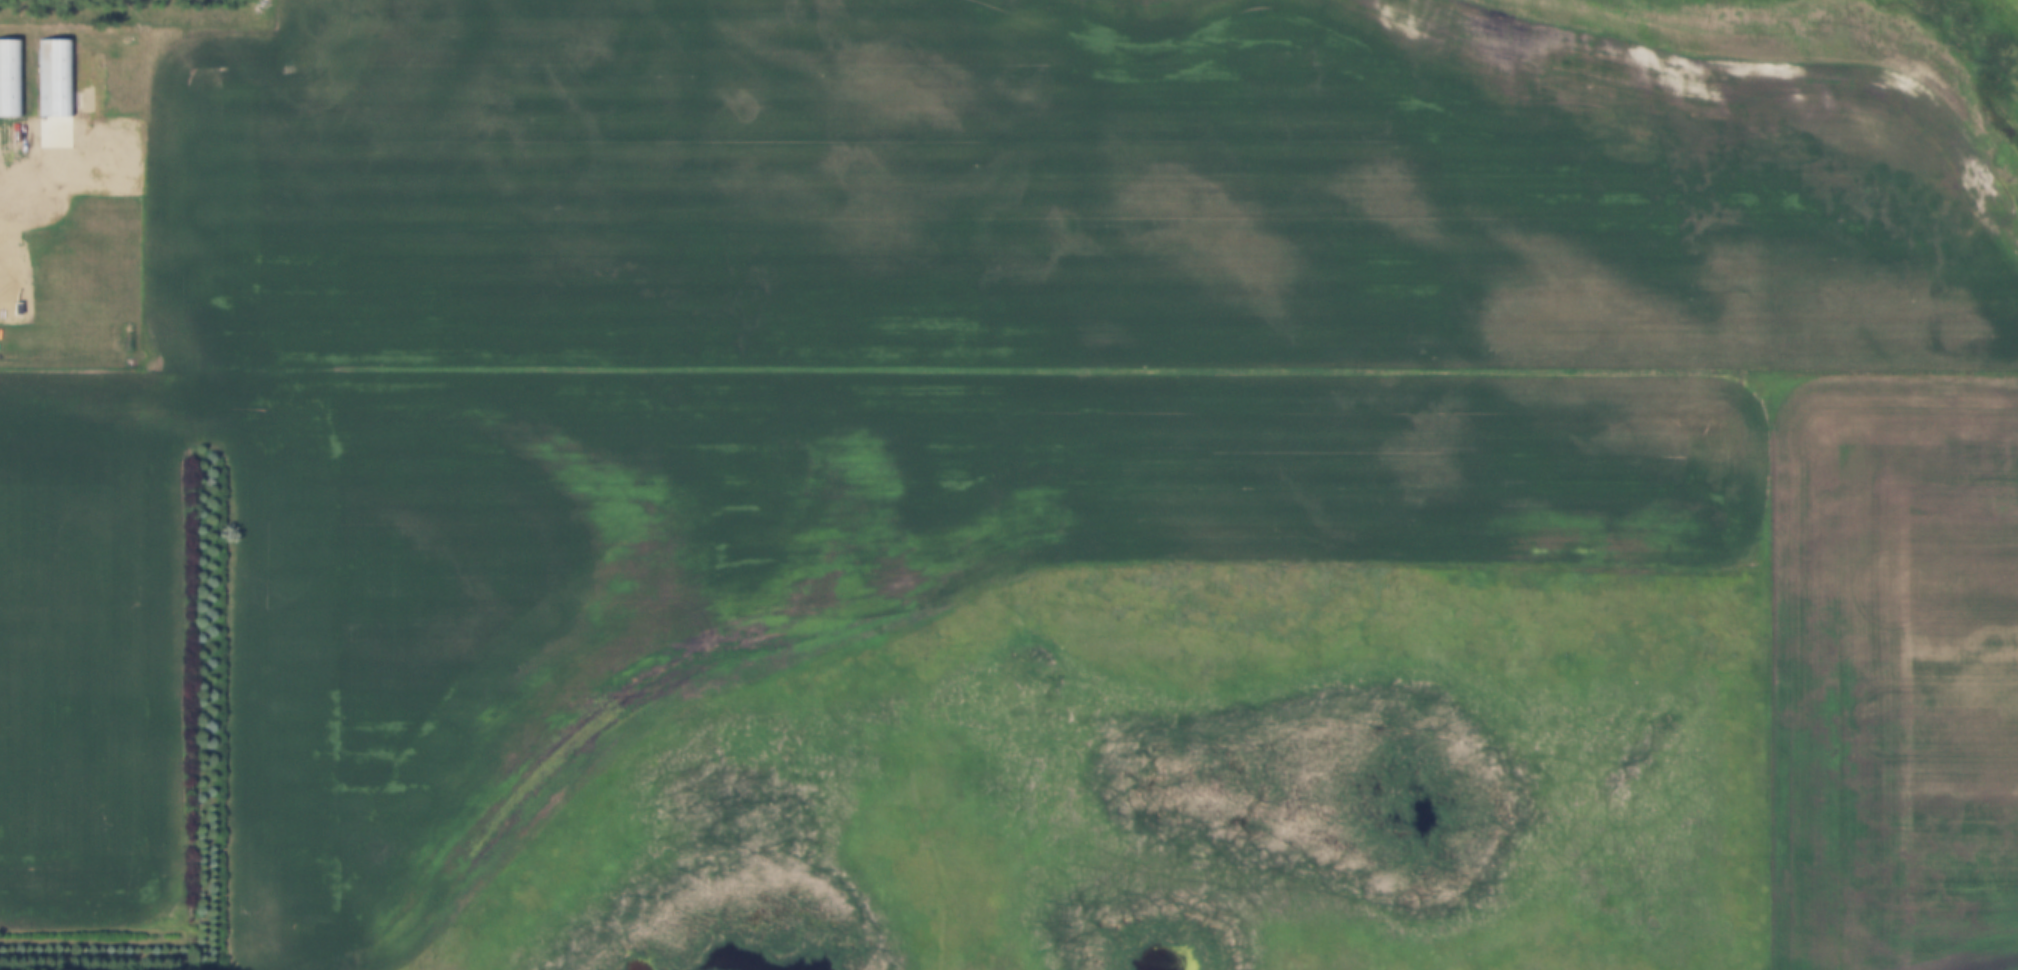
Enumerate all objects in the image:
building: (53, 71)
building: (9, 72)
building: (95, 97)
road: (32, 174)

